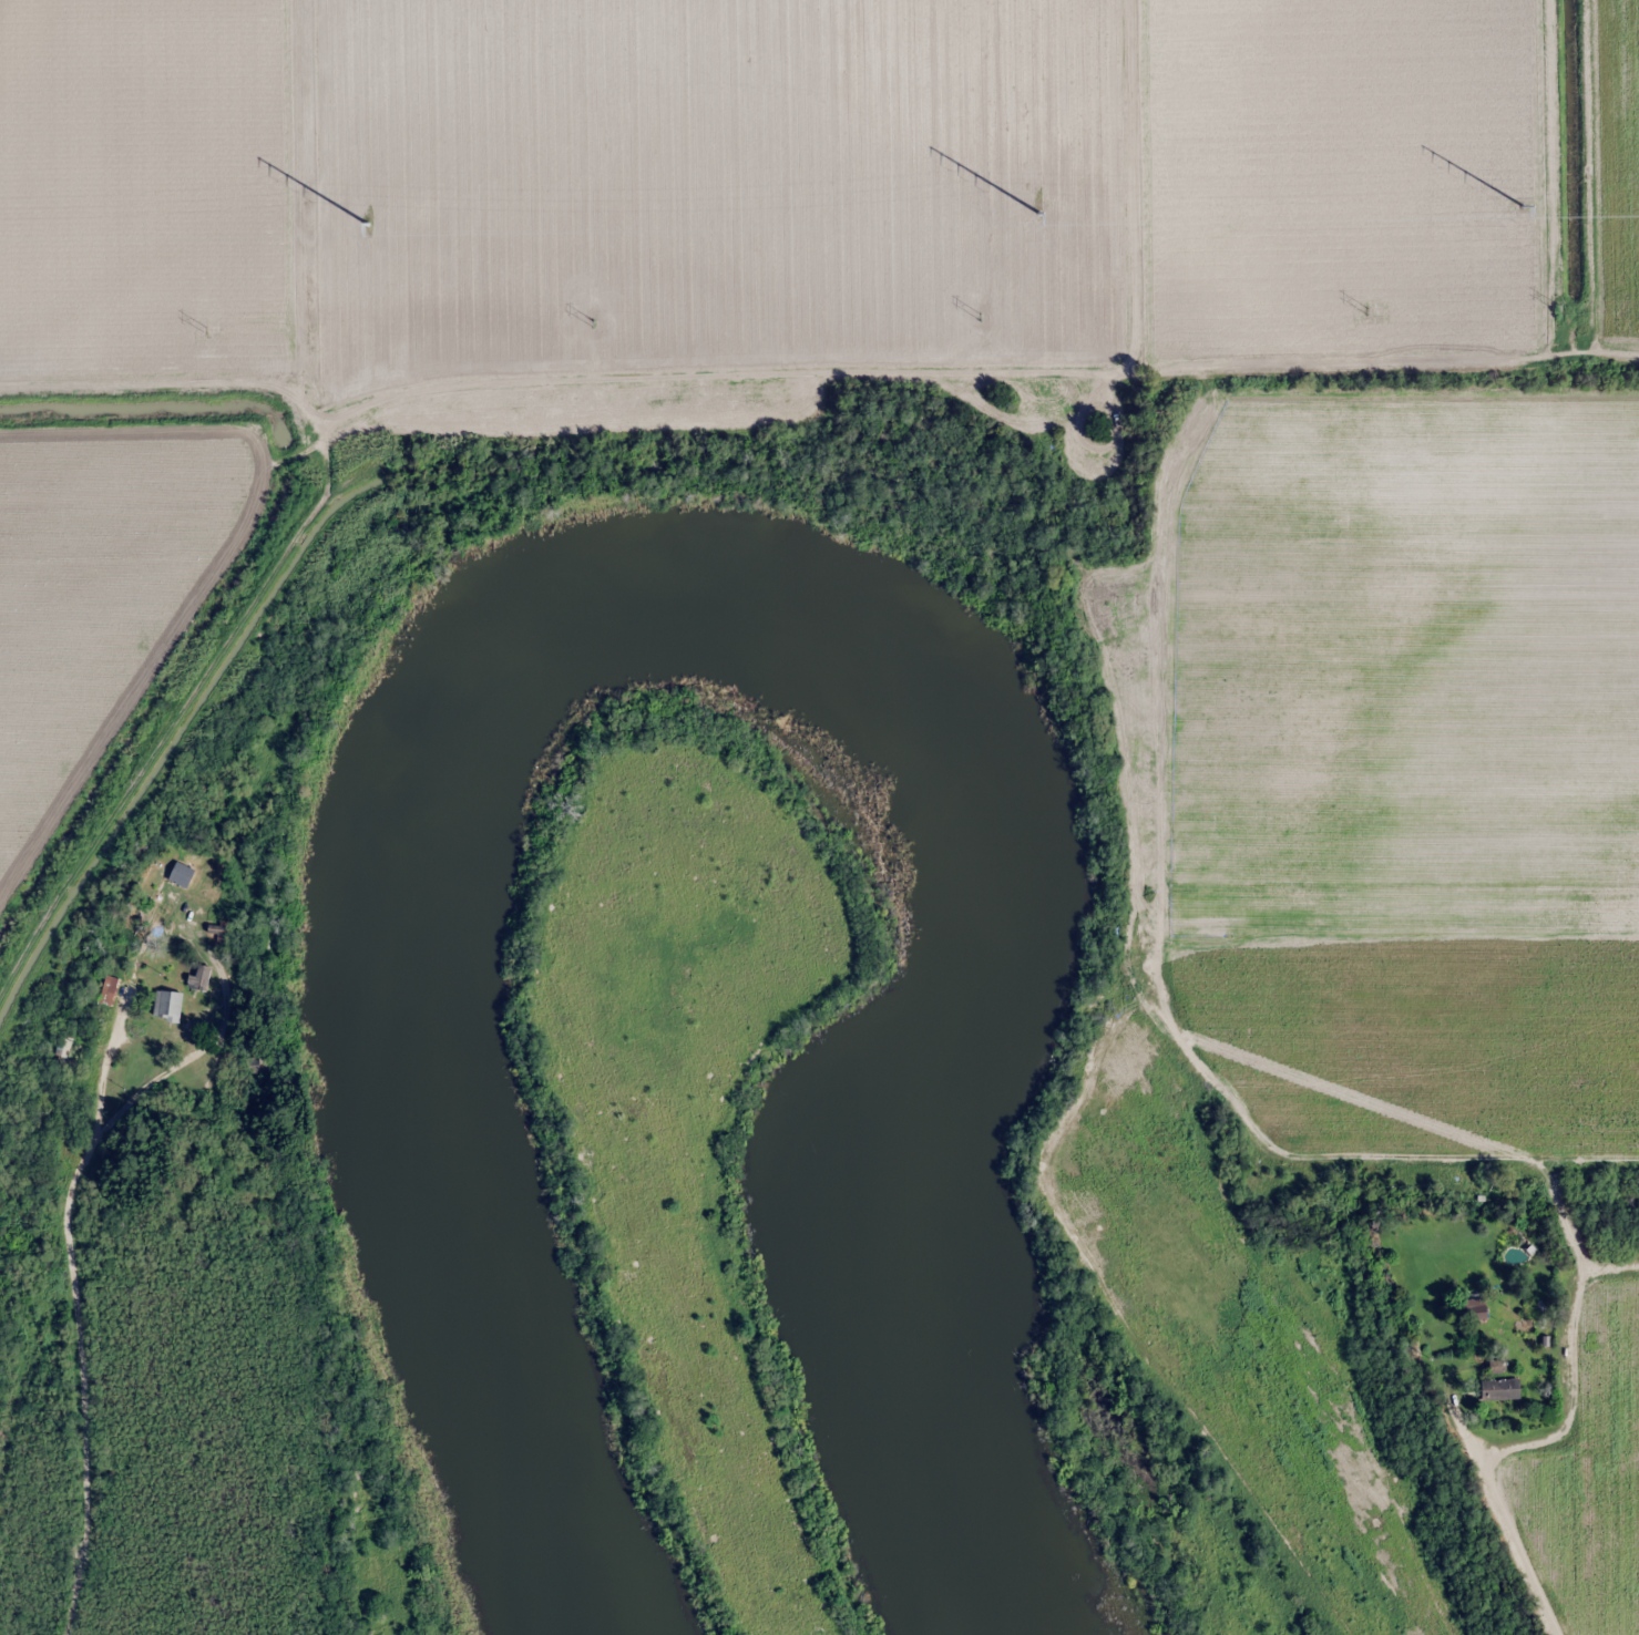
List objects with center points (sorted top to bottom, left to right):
power tower: (1523, 203)
power tower: (1041, 212)
power tower: (368, 225)
power tower: (1556, 306)
power tower: (1365, 309)
power tower: (977, 316)
power tower: (591, 321)
power tower: (203, 328)
building: (182, 875)
building: (202, 977)
building: (168, 1005)
building: (104, 1007)
building: (64, 1049)
building: (255, 1065)
road: (74, 1305)
building: (1475, 1308)
building: (1528, 1326)
building: (1502, 1389)
road: (1541, 1547)

